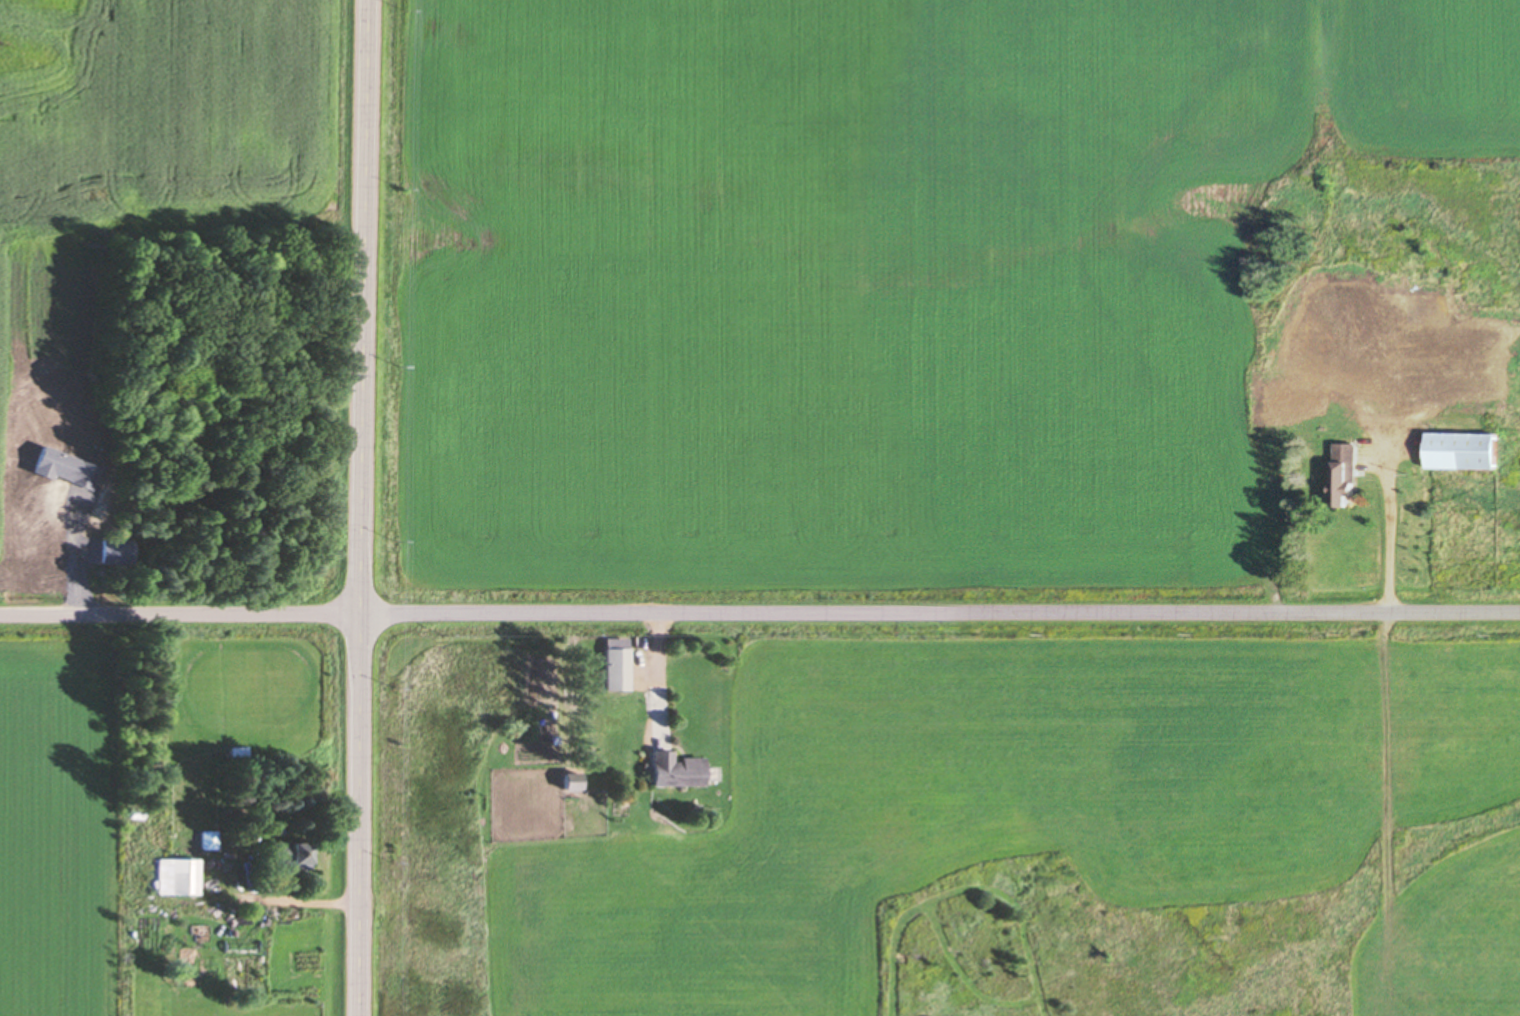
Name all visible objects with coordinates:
building: (1405, 306)
building: (1294, 397)
building: (1460, 450)
building: (1344, 475)
road: (360, 507)
road: (759, 613)
building: (614, 661)
building: (235, 752)
building: (673, 769)
building: (207, 838)
building: (293, 853)
building: (181, 875)

